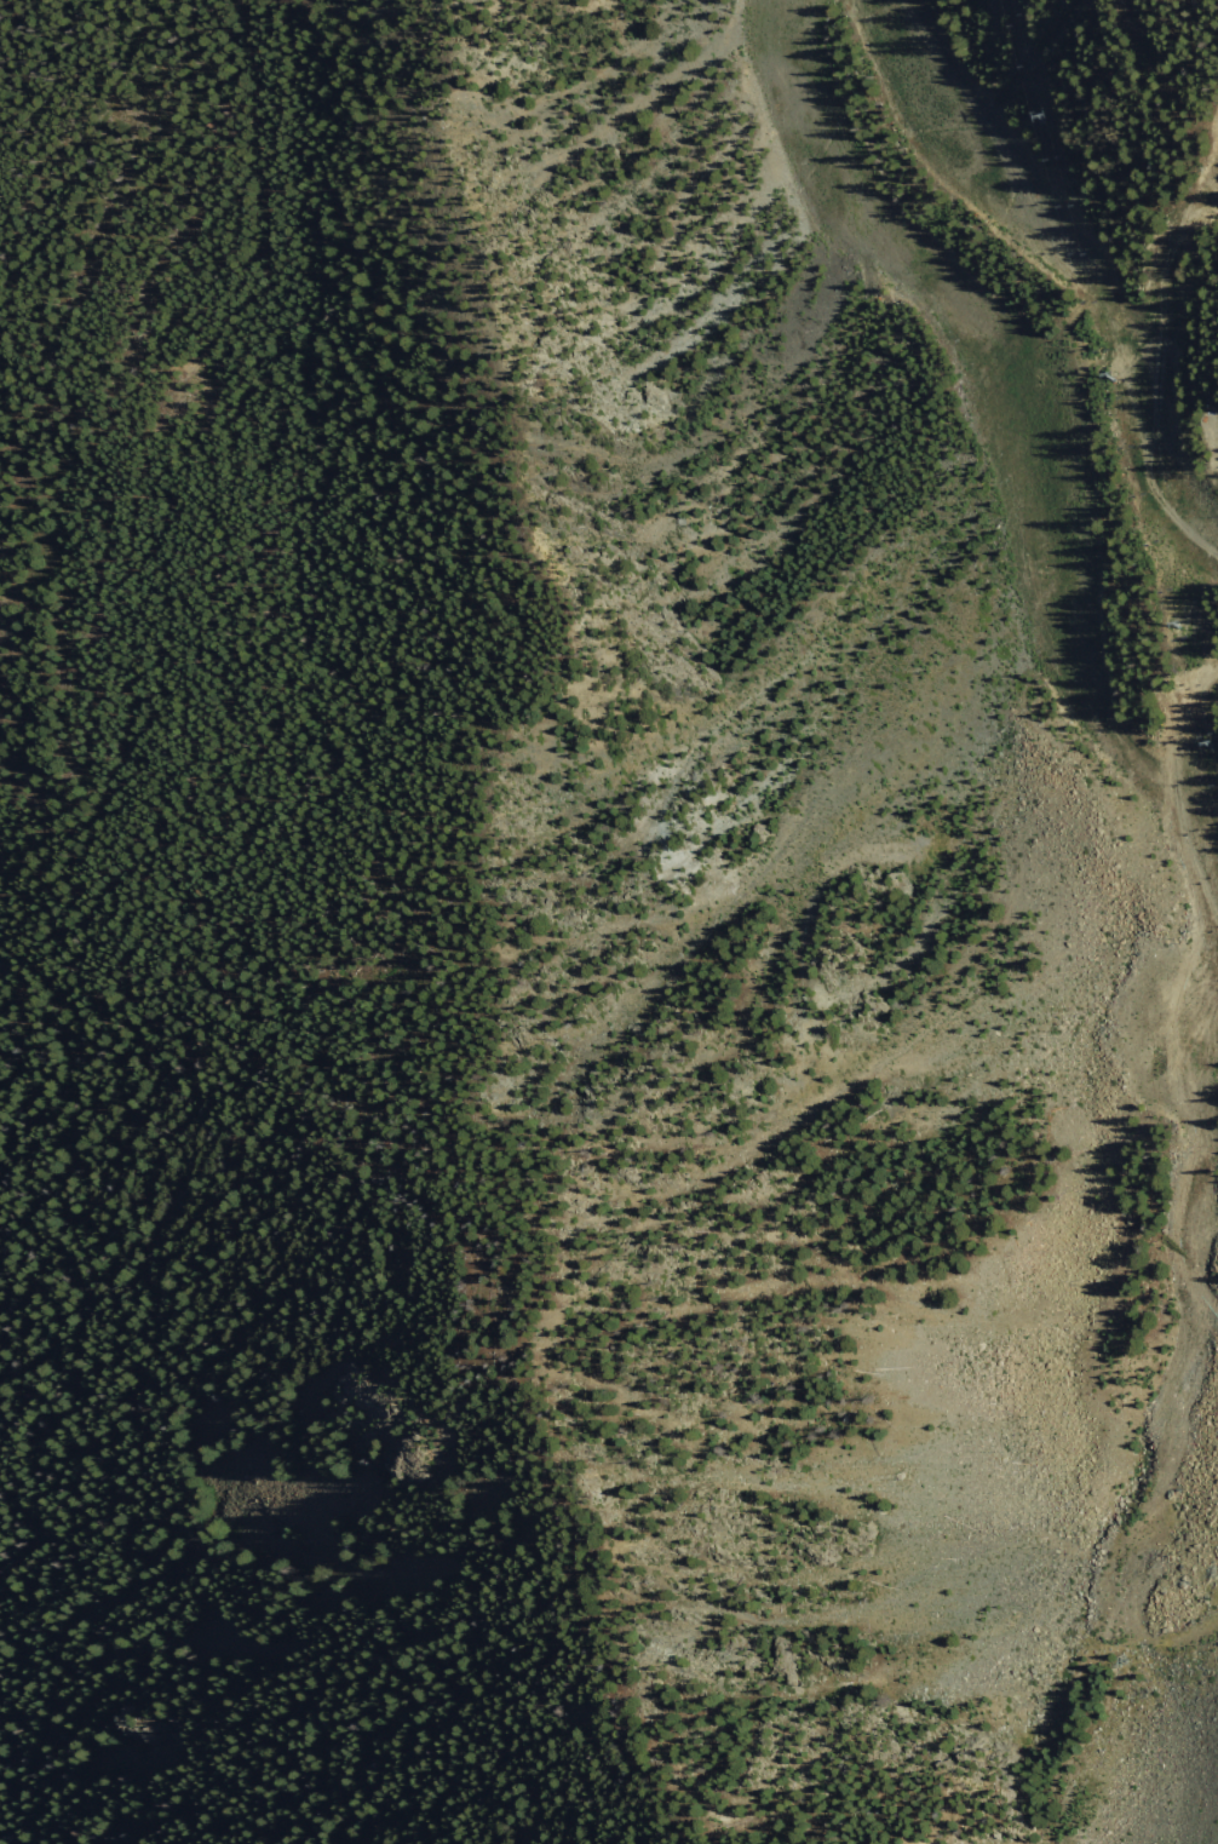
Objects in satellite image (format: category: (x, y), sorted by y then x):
aerialway pylon: (1033, 117)
aerialway pylon: (1102, 375)
aerialway pylon: (1170, 626)
aerialway pylon: (1201, 745)
ski resort: (693, 792)

